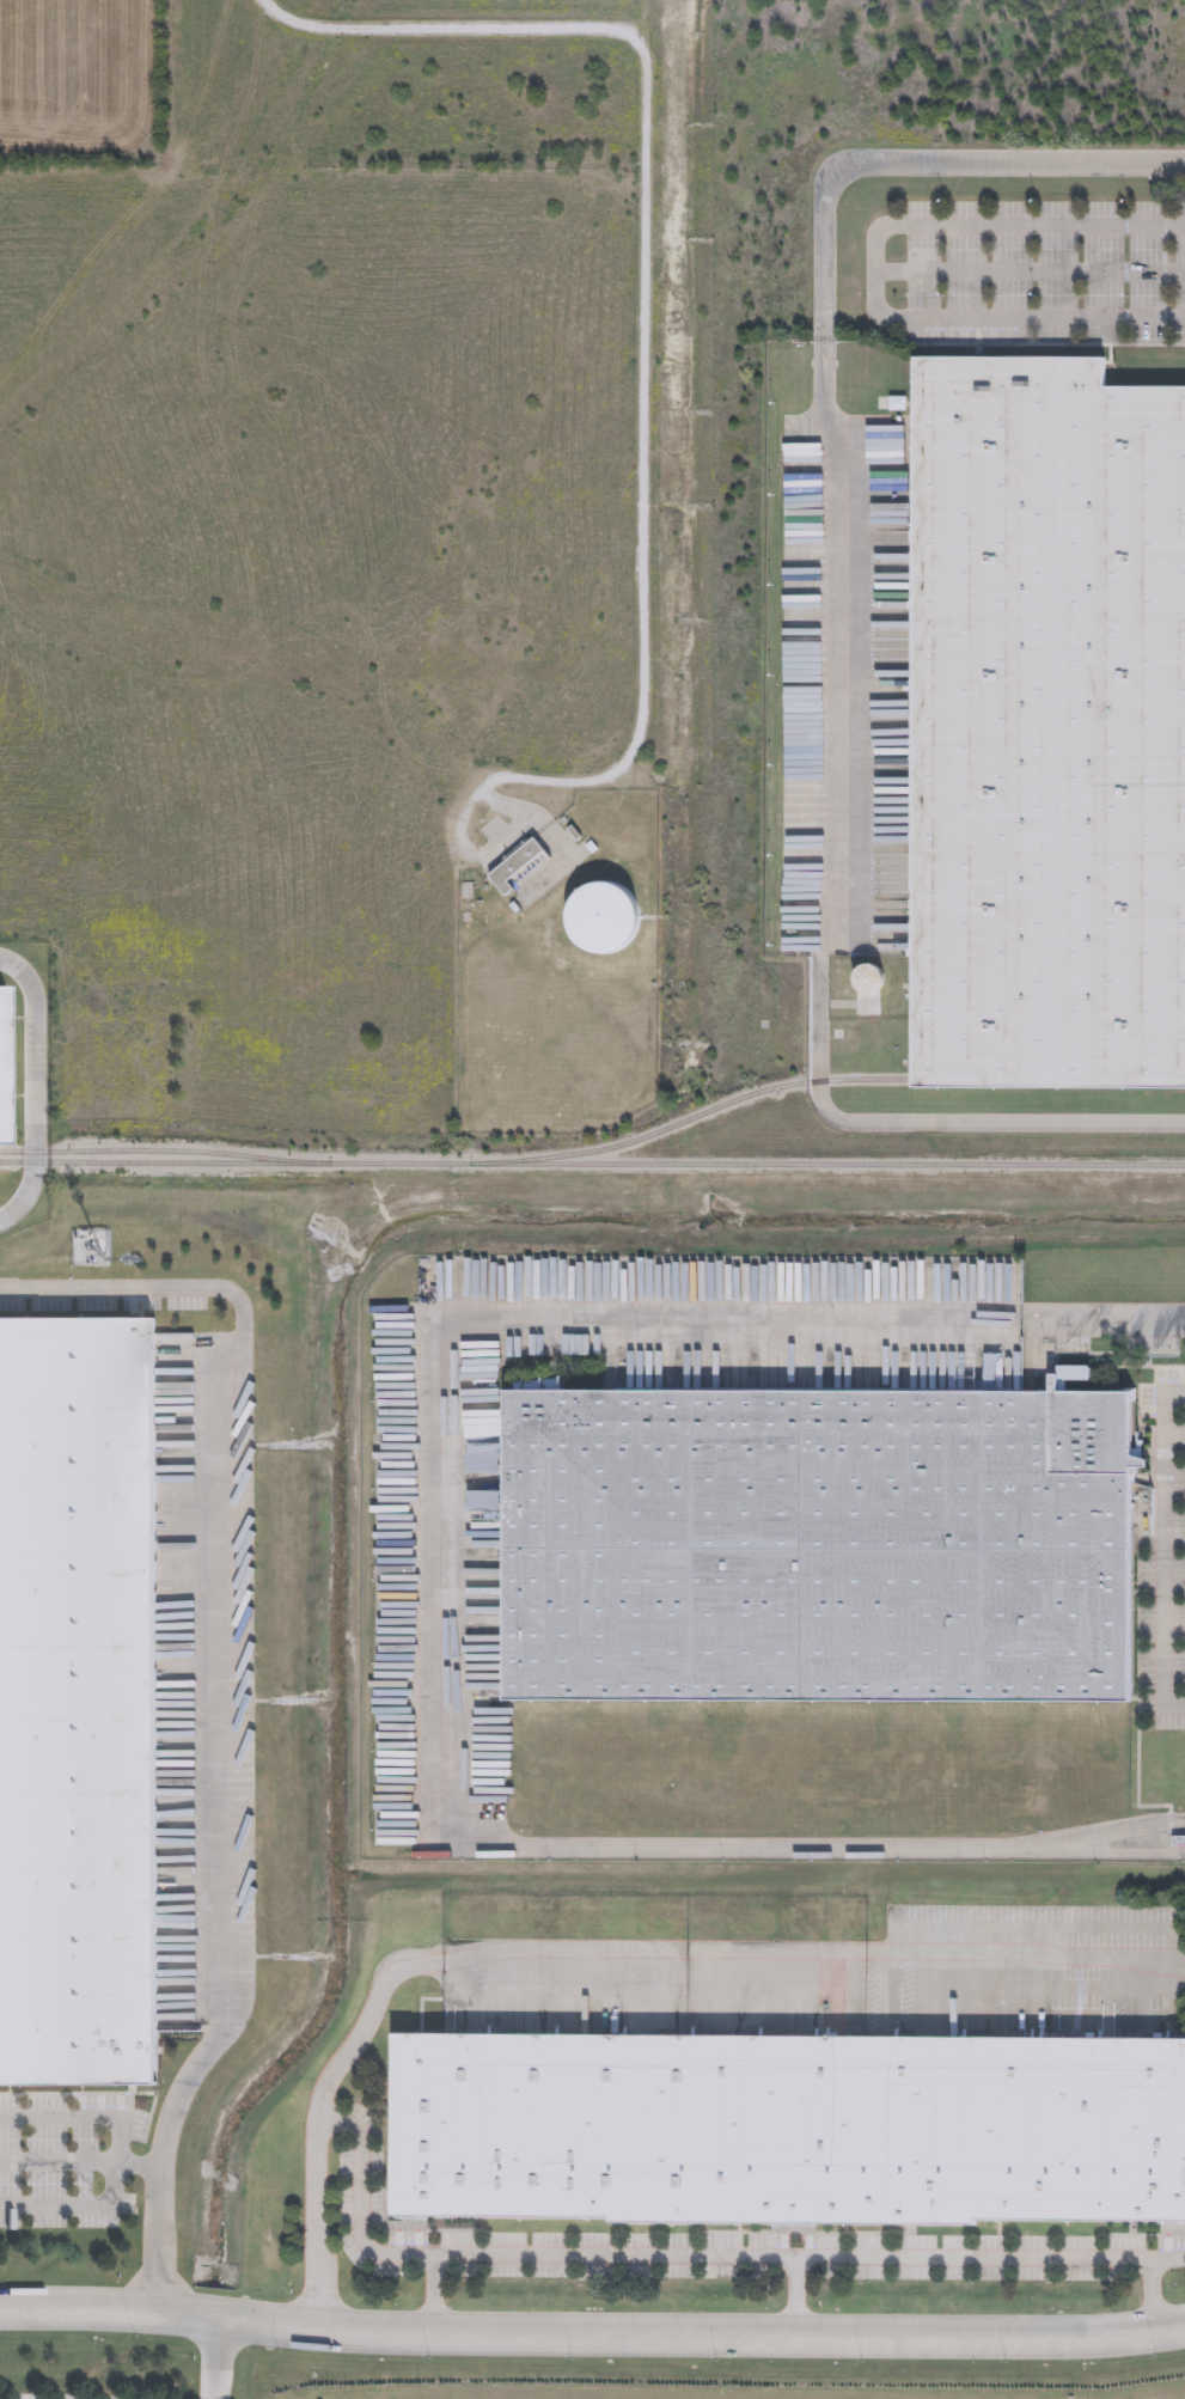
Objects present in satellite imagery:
road: (921, 165)
road: (654, 262)
road: (875, 271)
road: (1030, 273)
road: (839, 621)
building: (1047, 727)
building: (523, 869)
building: (606, 922)
building: (874, 983)
building: (5, 1072)
road: (33, 1086)
railway: (691, 1122)
road: (898, 1123)
railway: (166, 1154)
railway: (592, 1168)
building: (818, 1542)
road: (1163, 1549)
road: (440, 1593)
road: (239, 1697)
building: (80, 1702)
road: (1108, 1930)
road: (600, 1971)
building: (782, 2125)
road: (80, 2165)
road: (362, 2236)
road: (650, 2254)
road: (1007, 2255)
road: (1167, 2258)
road: (592, 2331)
road: (215, 2360)

